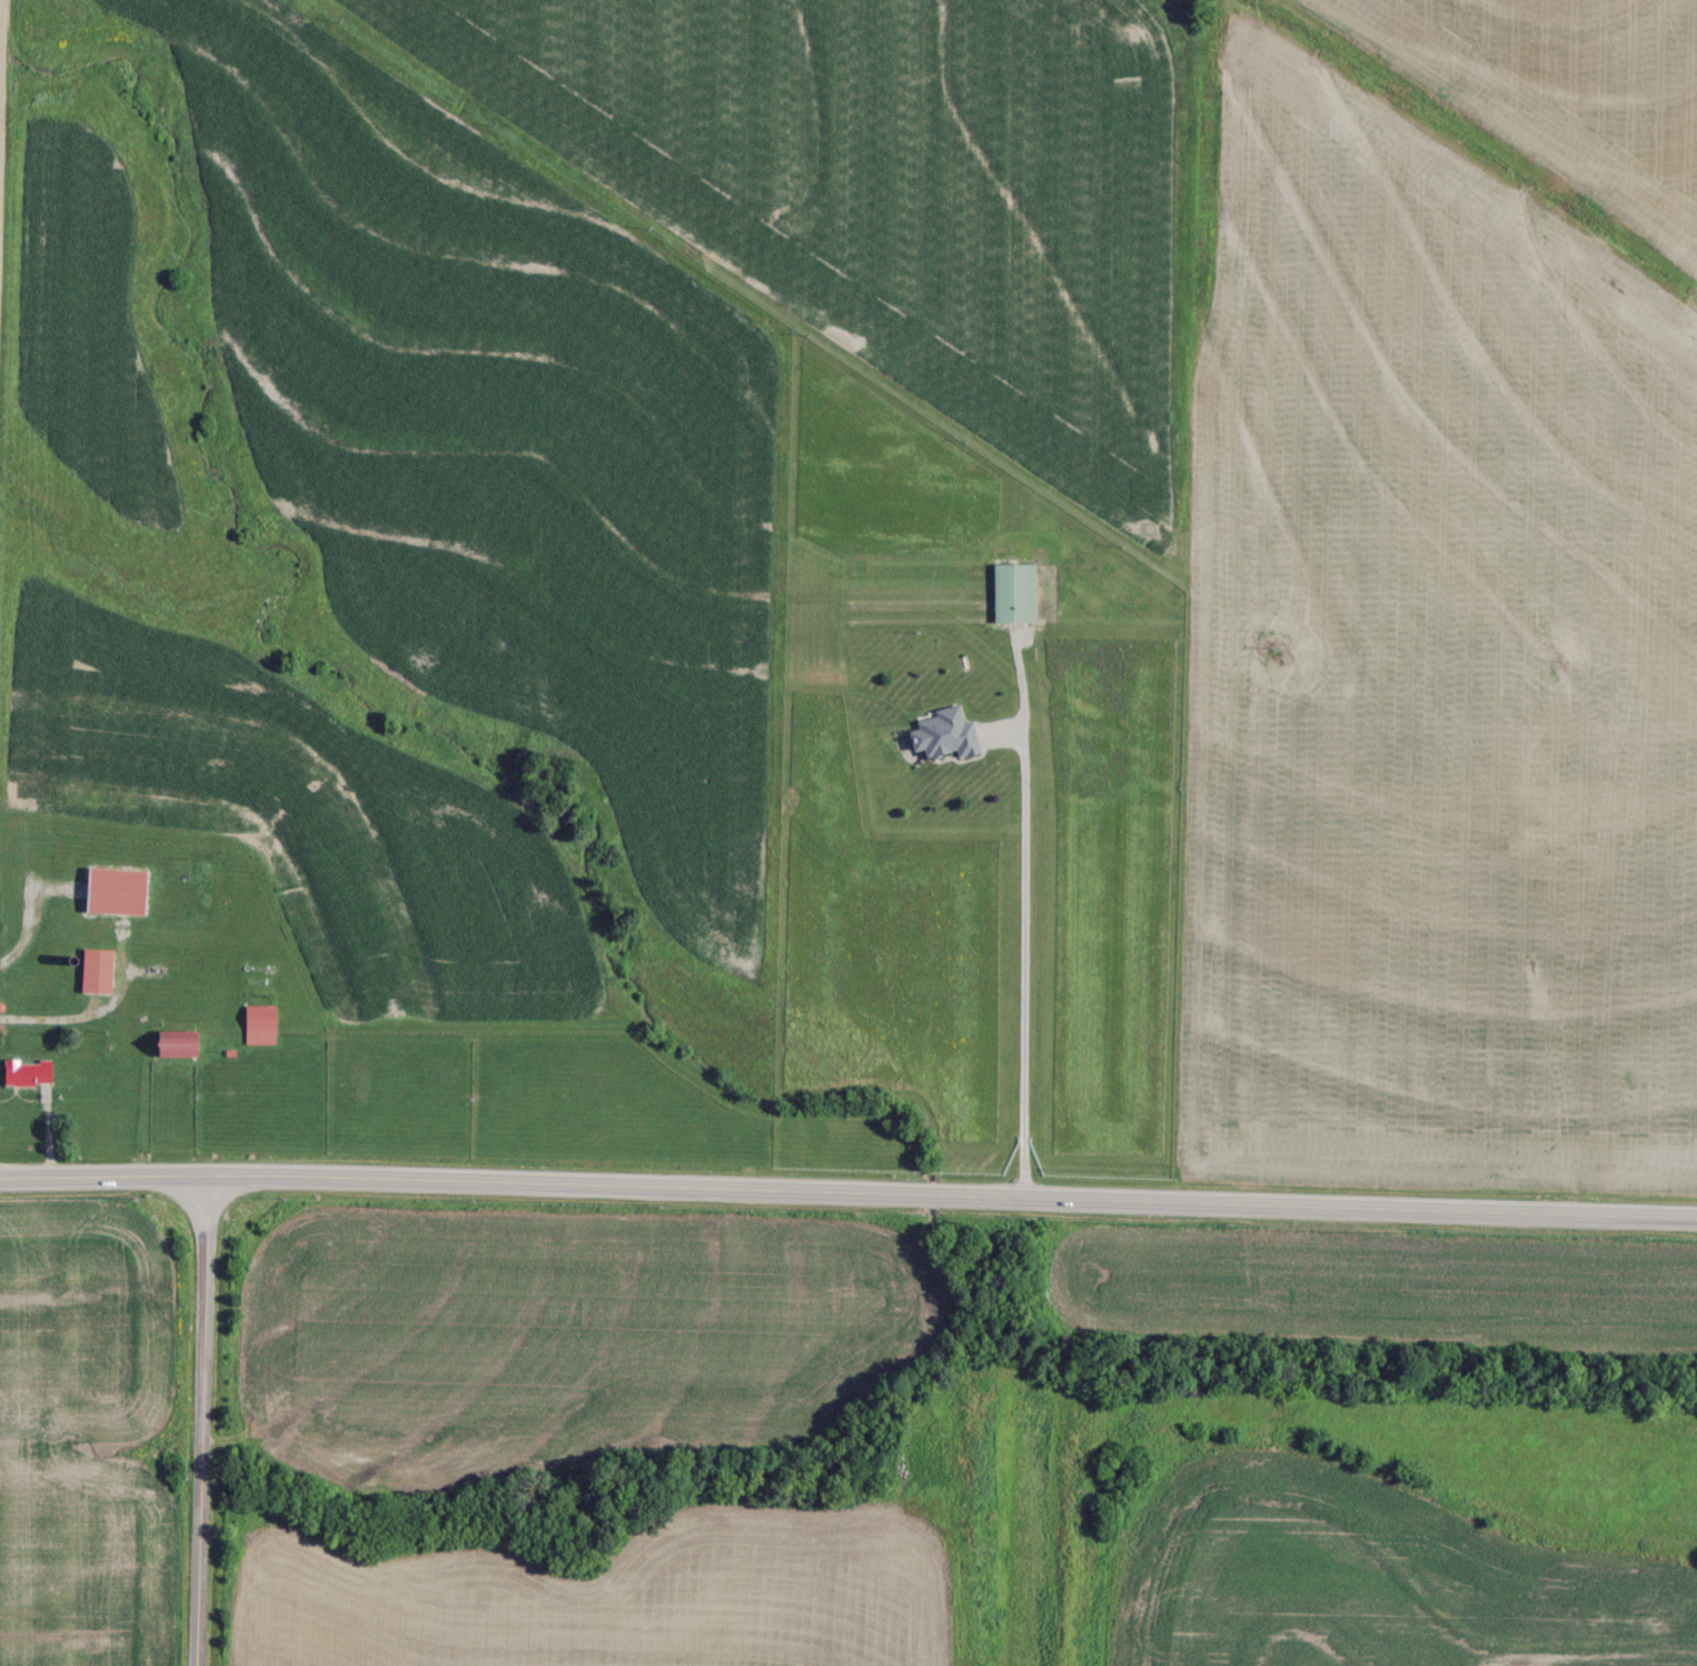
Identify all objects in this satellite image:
crop: (1566, 90)
crop: (882, 189)
crop: (396, 589)
building: (1018, 593)
crop: (1432, 681)
building: (950, 734)
building: (119, 892)
building: (100, 972)
building: (261, 1025)
building: (182, 1044)
building: (30, 1072)
road: (848, 1191)
road: (205, 1421)
crop: (96, 1428)

